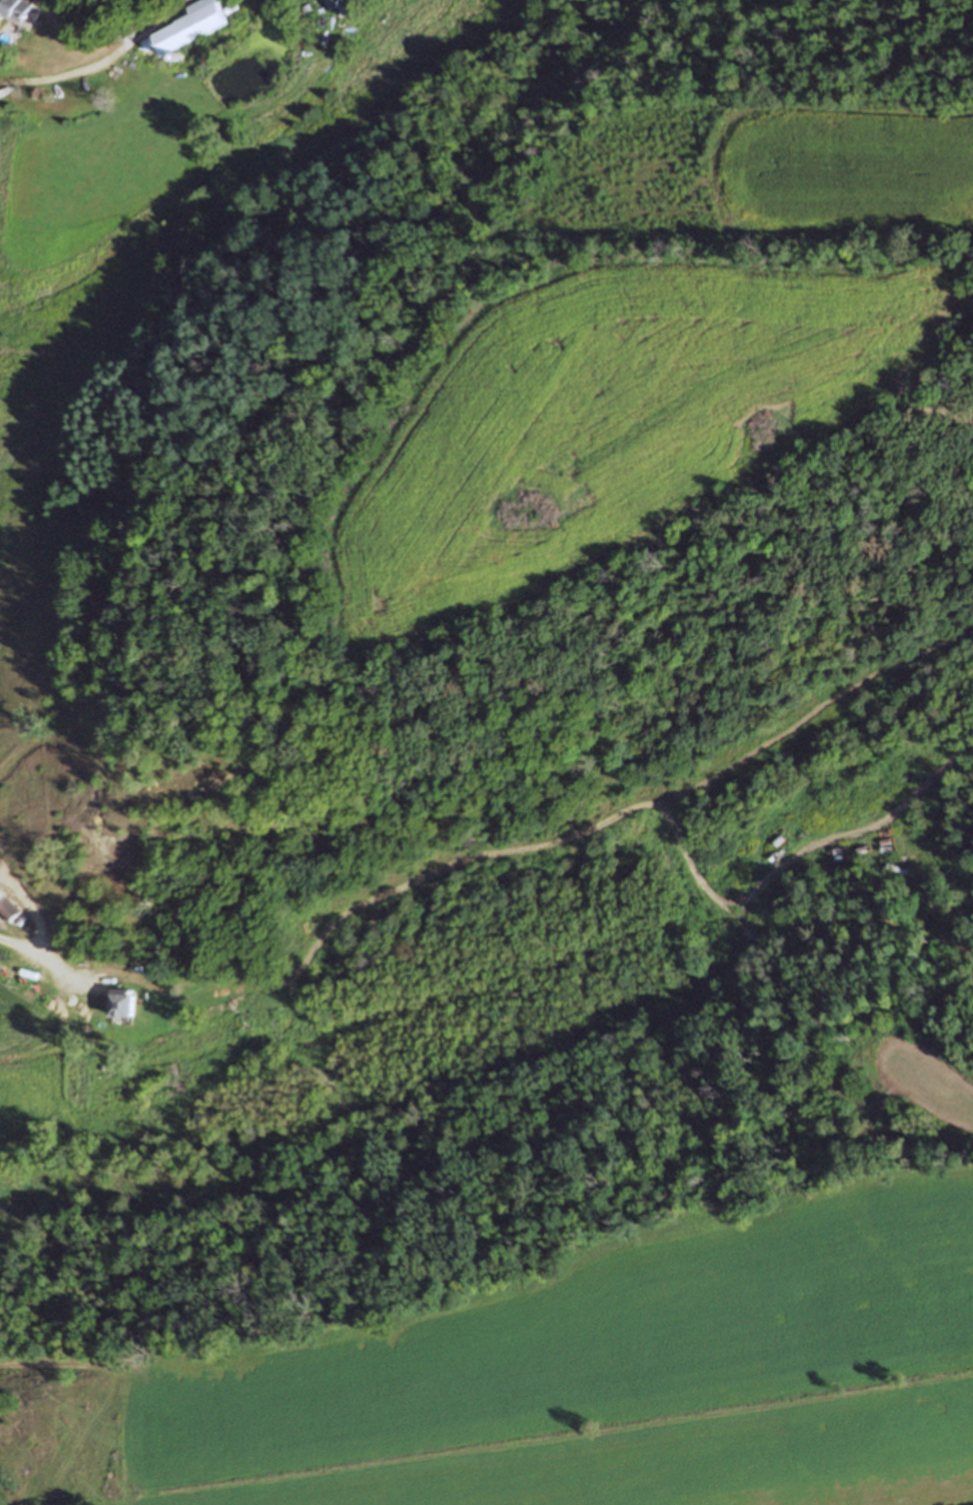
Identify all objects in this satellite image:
building: (49, 3)
building: (10, 9)
building: (186, 27)
road: (4, 31)
road: (57, 76)
building: (6, 909)
road: (39, 950)
building: (15, 965)
building: (120, 1007)
road: (3, 1365)

